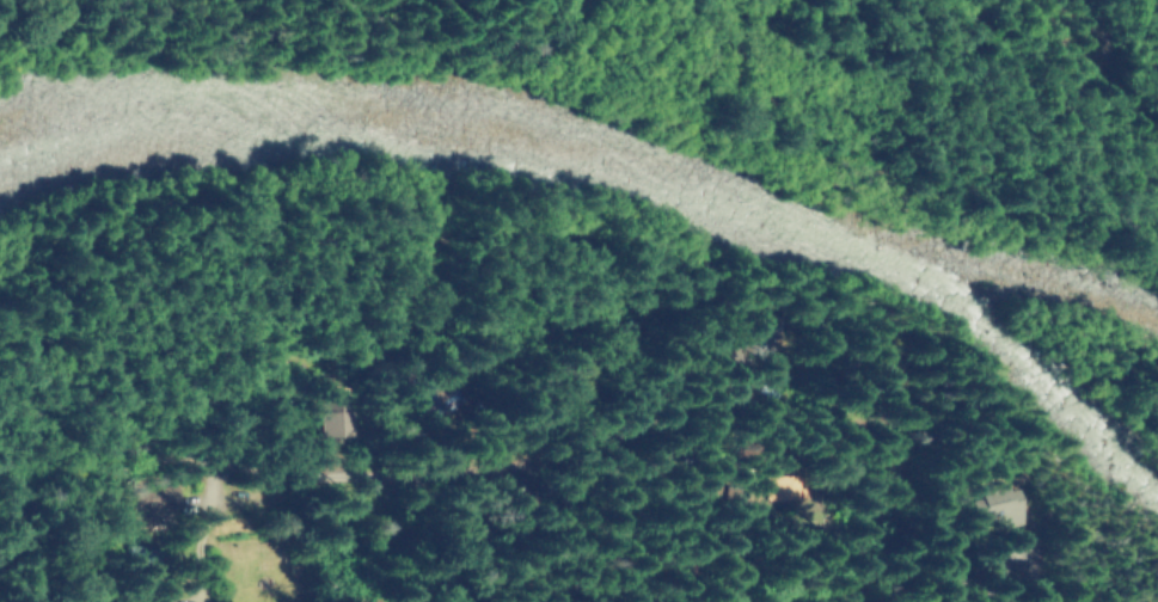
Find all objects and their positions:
river: (598, 160)
building: (759, 332)
building: (888, 367)
building: (427, 399)
building: (308, 413)
road: (805, 419)
building: (323, 428)
road: (281, 475)
building: (785, 480)
building: (148, 503)
building: (338, 505)
building: (988, 505)
road: (595, 528)
road: (231, 533)
road: (428, 537)
building: (148, 564)
building: (154, 597)

